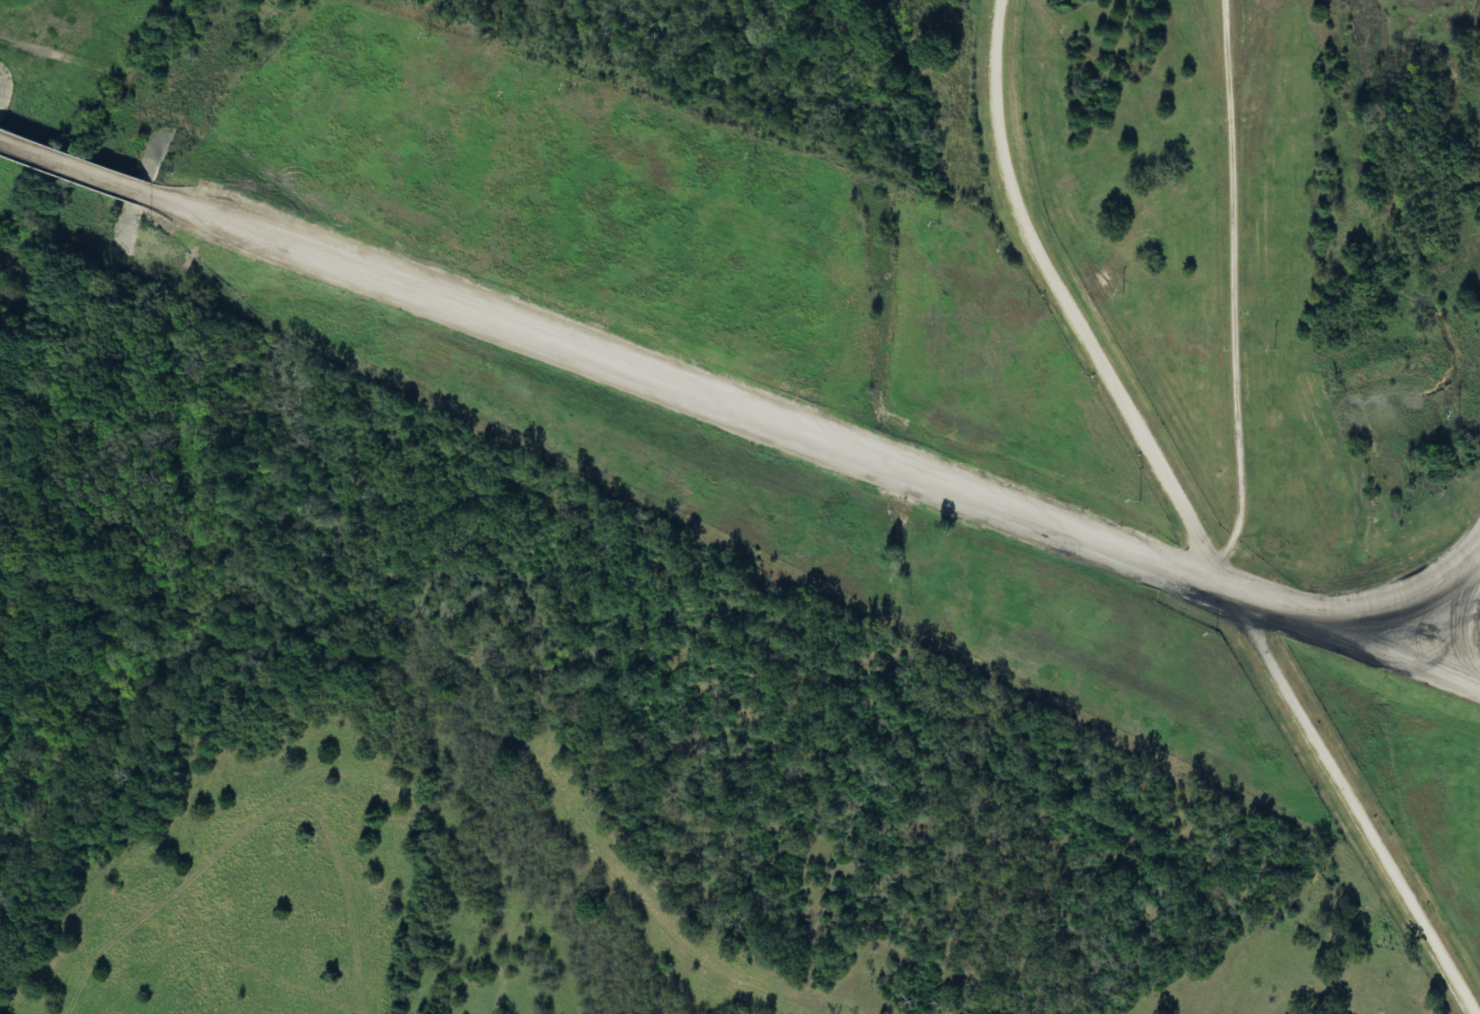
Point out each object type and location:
road: (76, 169)
road: (1234, 286)
road: (816, 440)
road: (1189, 521)
road: (1458, 625)

